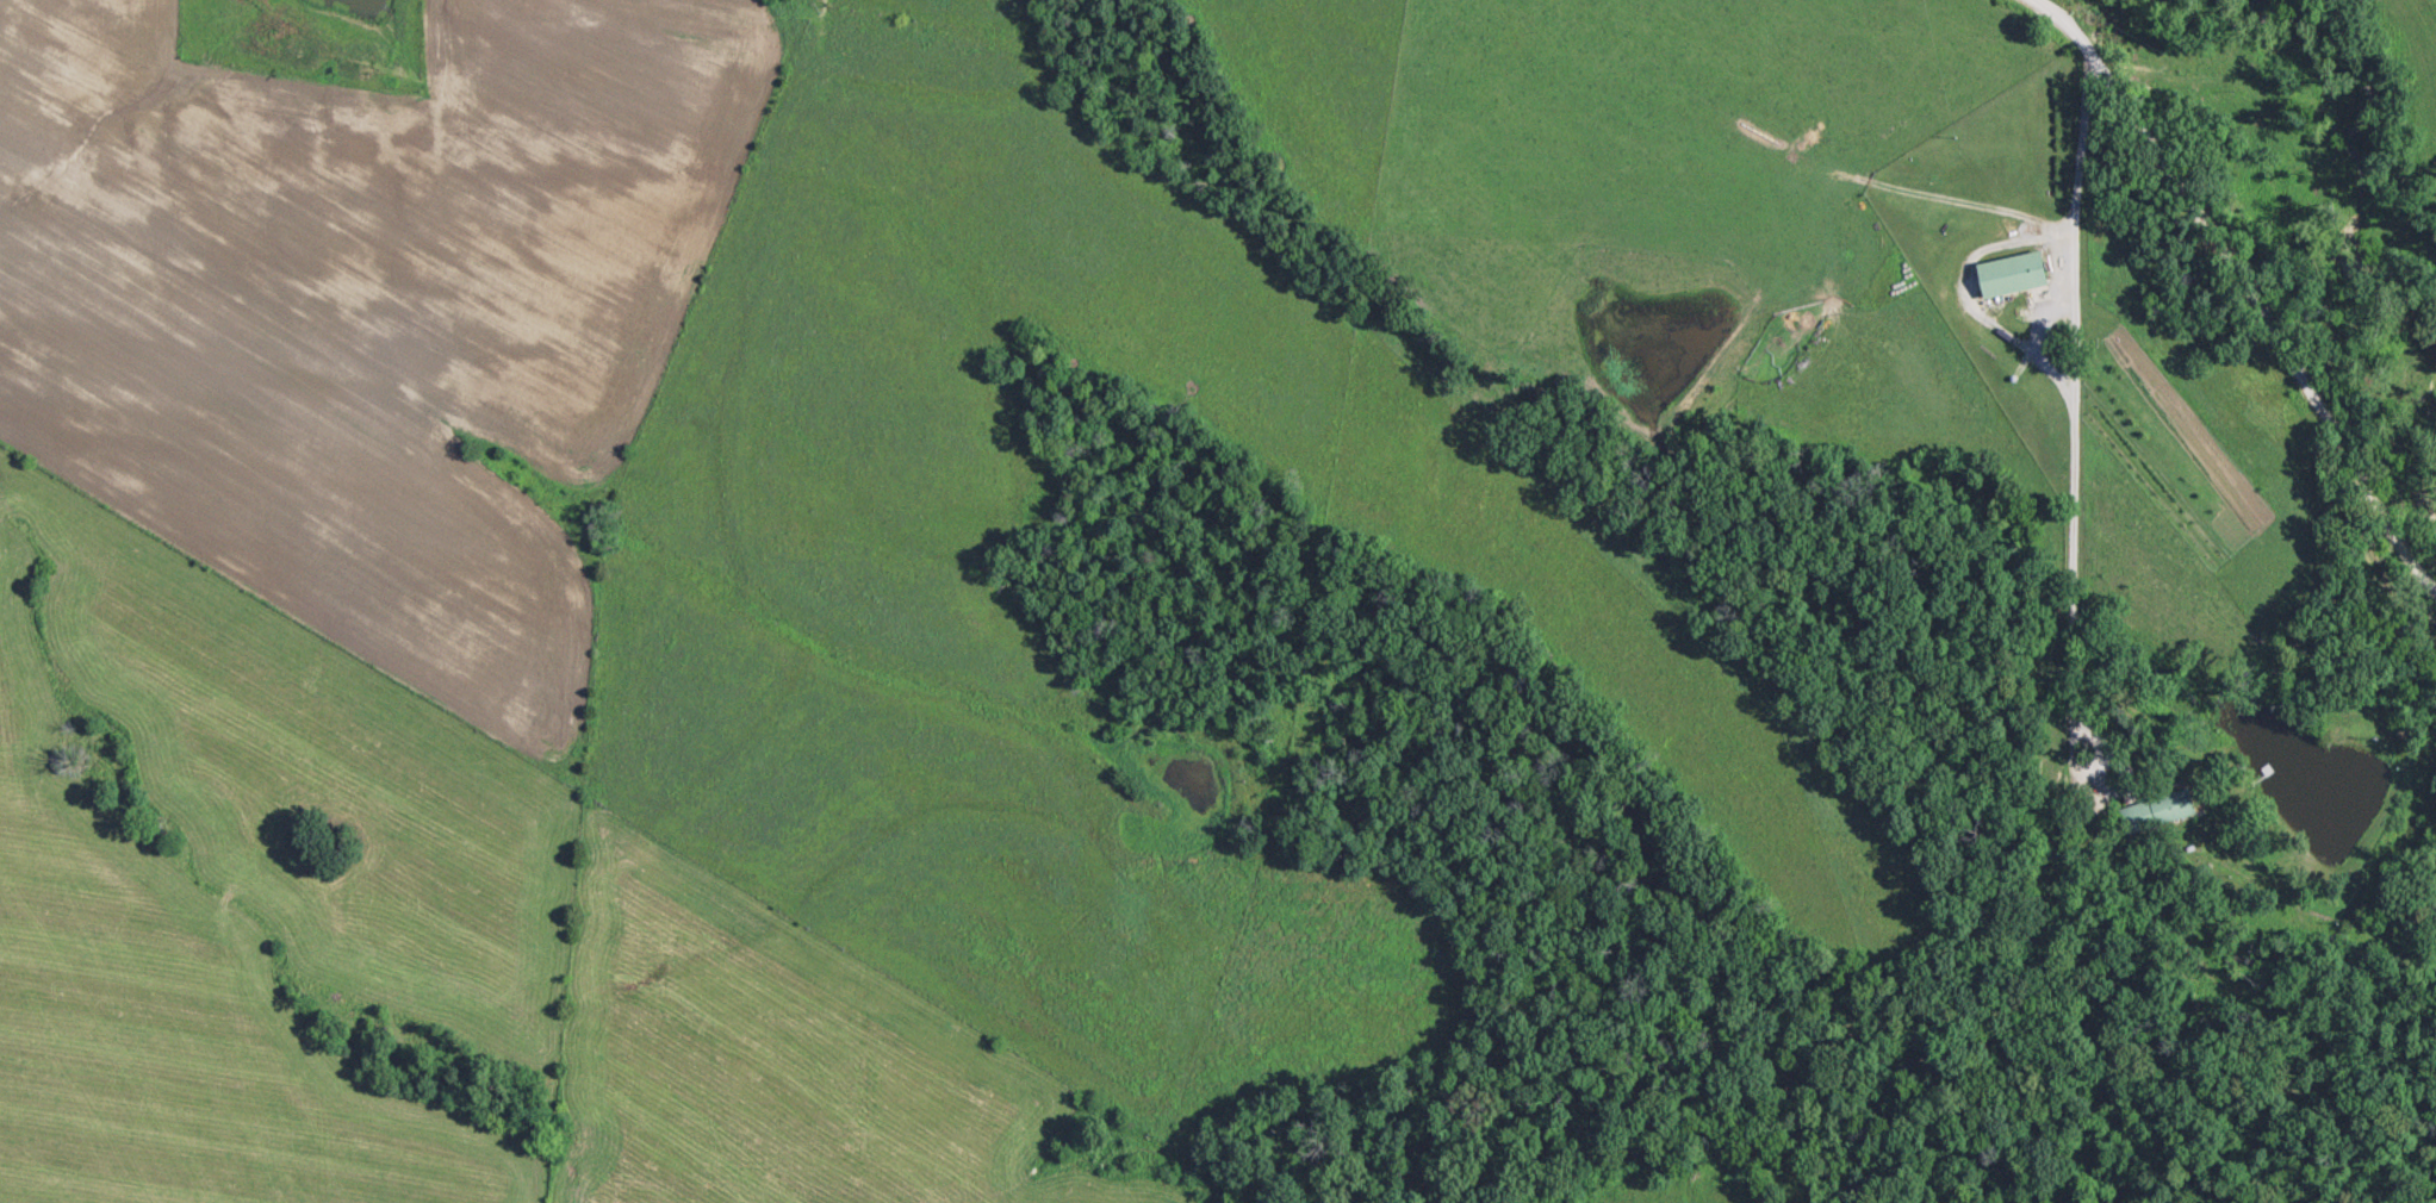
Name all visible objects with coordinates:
road: (2248, 269)
building: (2006, 273)
road: (2082, 447)
building: (2152, 811)

